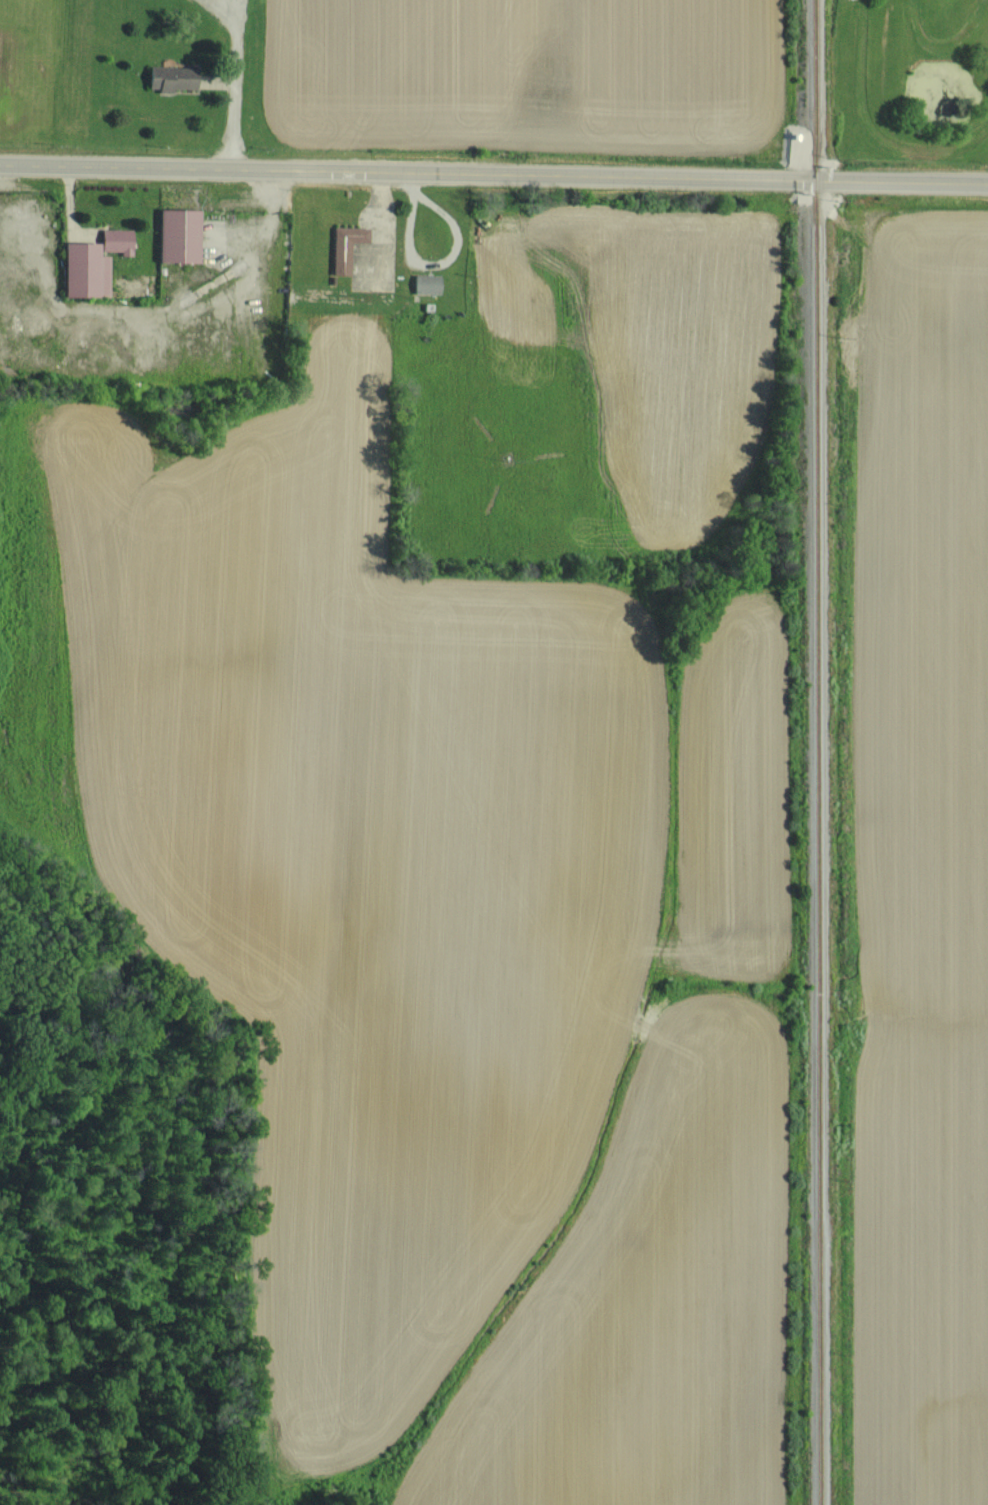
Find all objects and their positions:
building: (171, 77)
road: (234, 84)
road: (494, 173)
building: (177, 234)
building: (115, 240)
building: (345, 246)
building: (425, 283)
railway: (817, 752)

